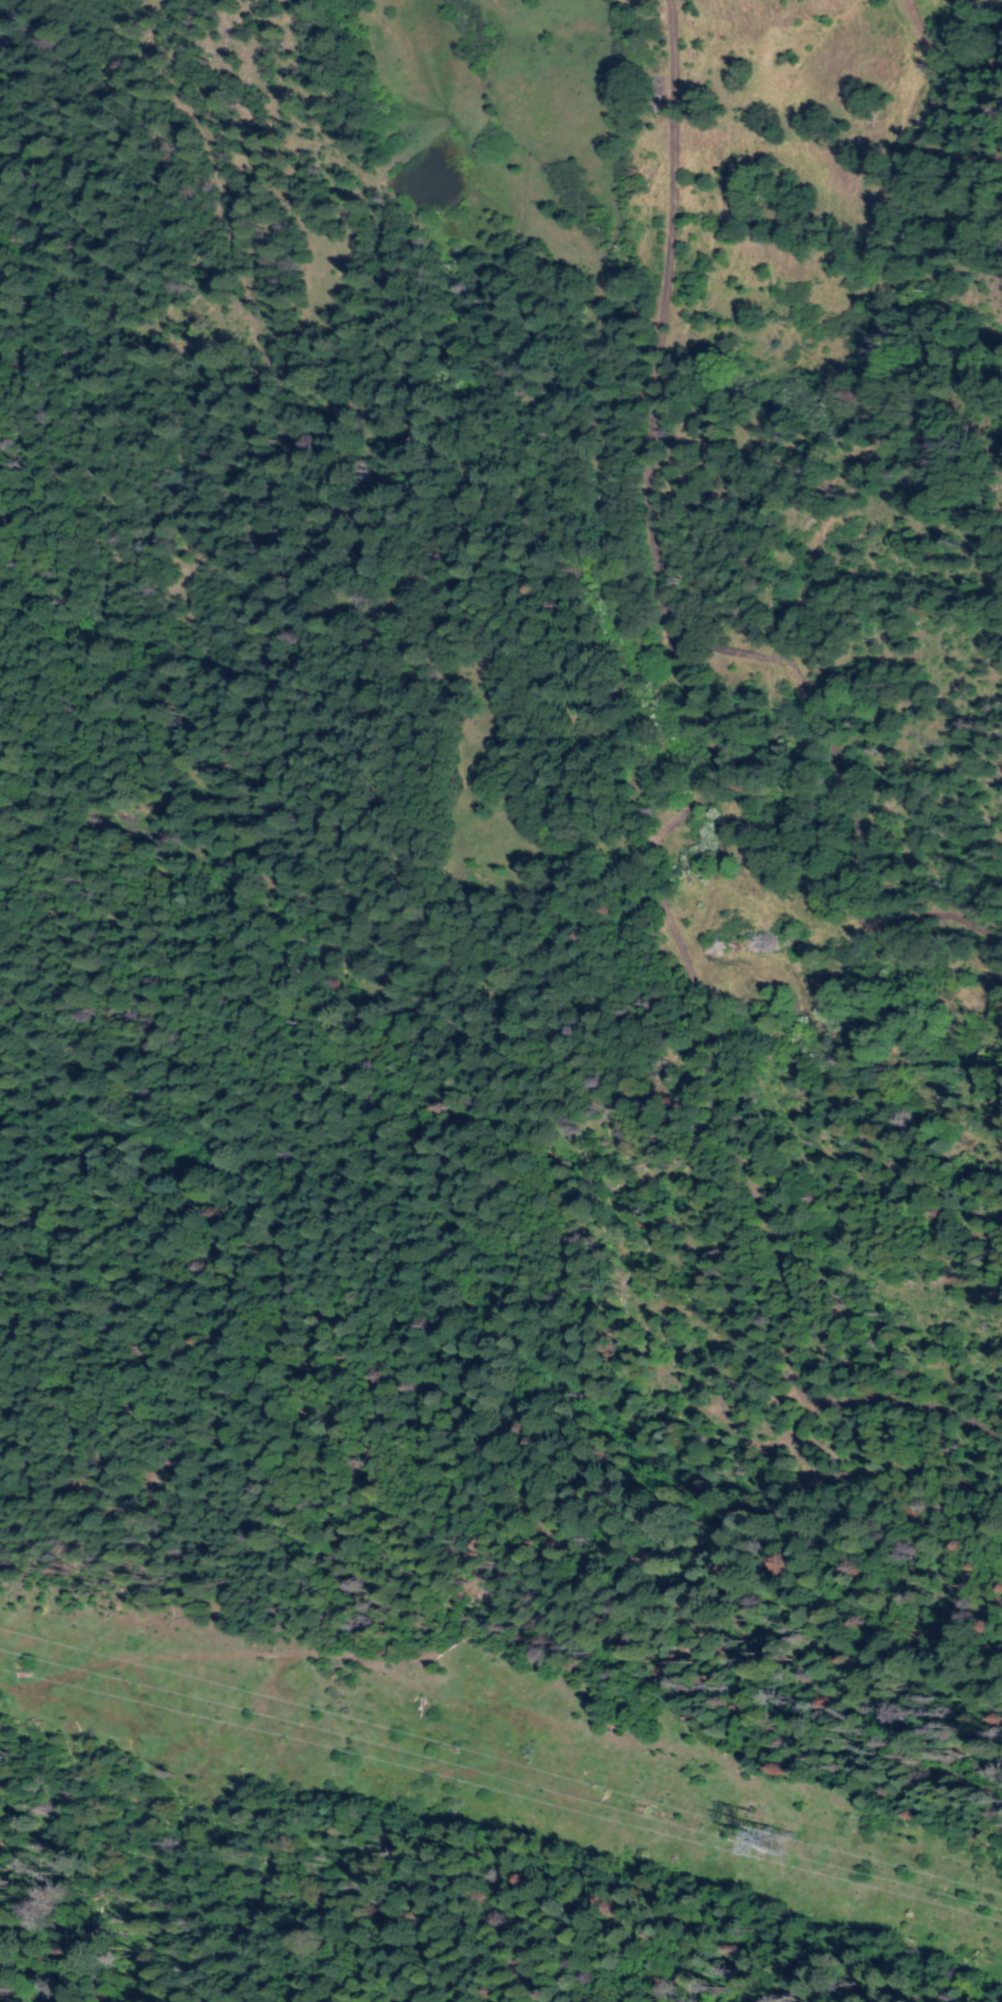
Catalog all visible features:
power tower: (785, 1843)

